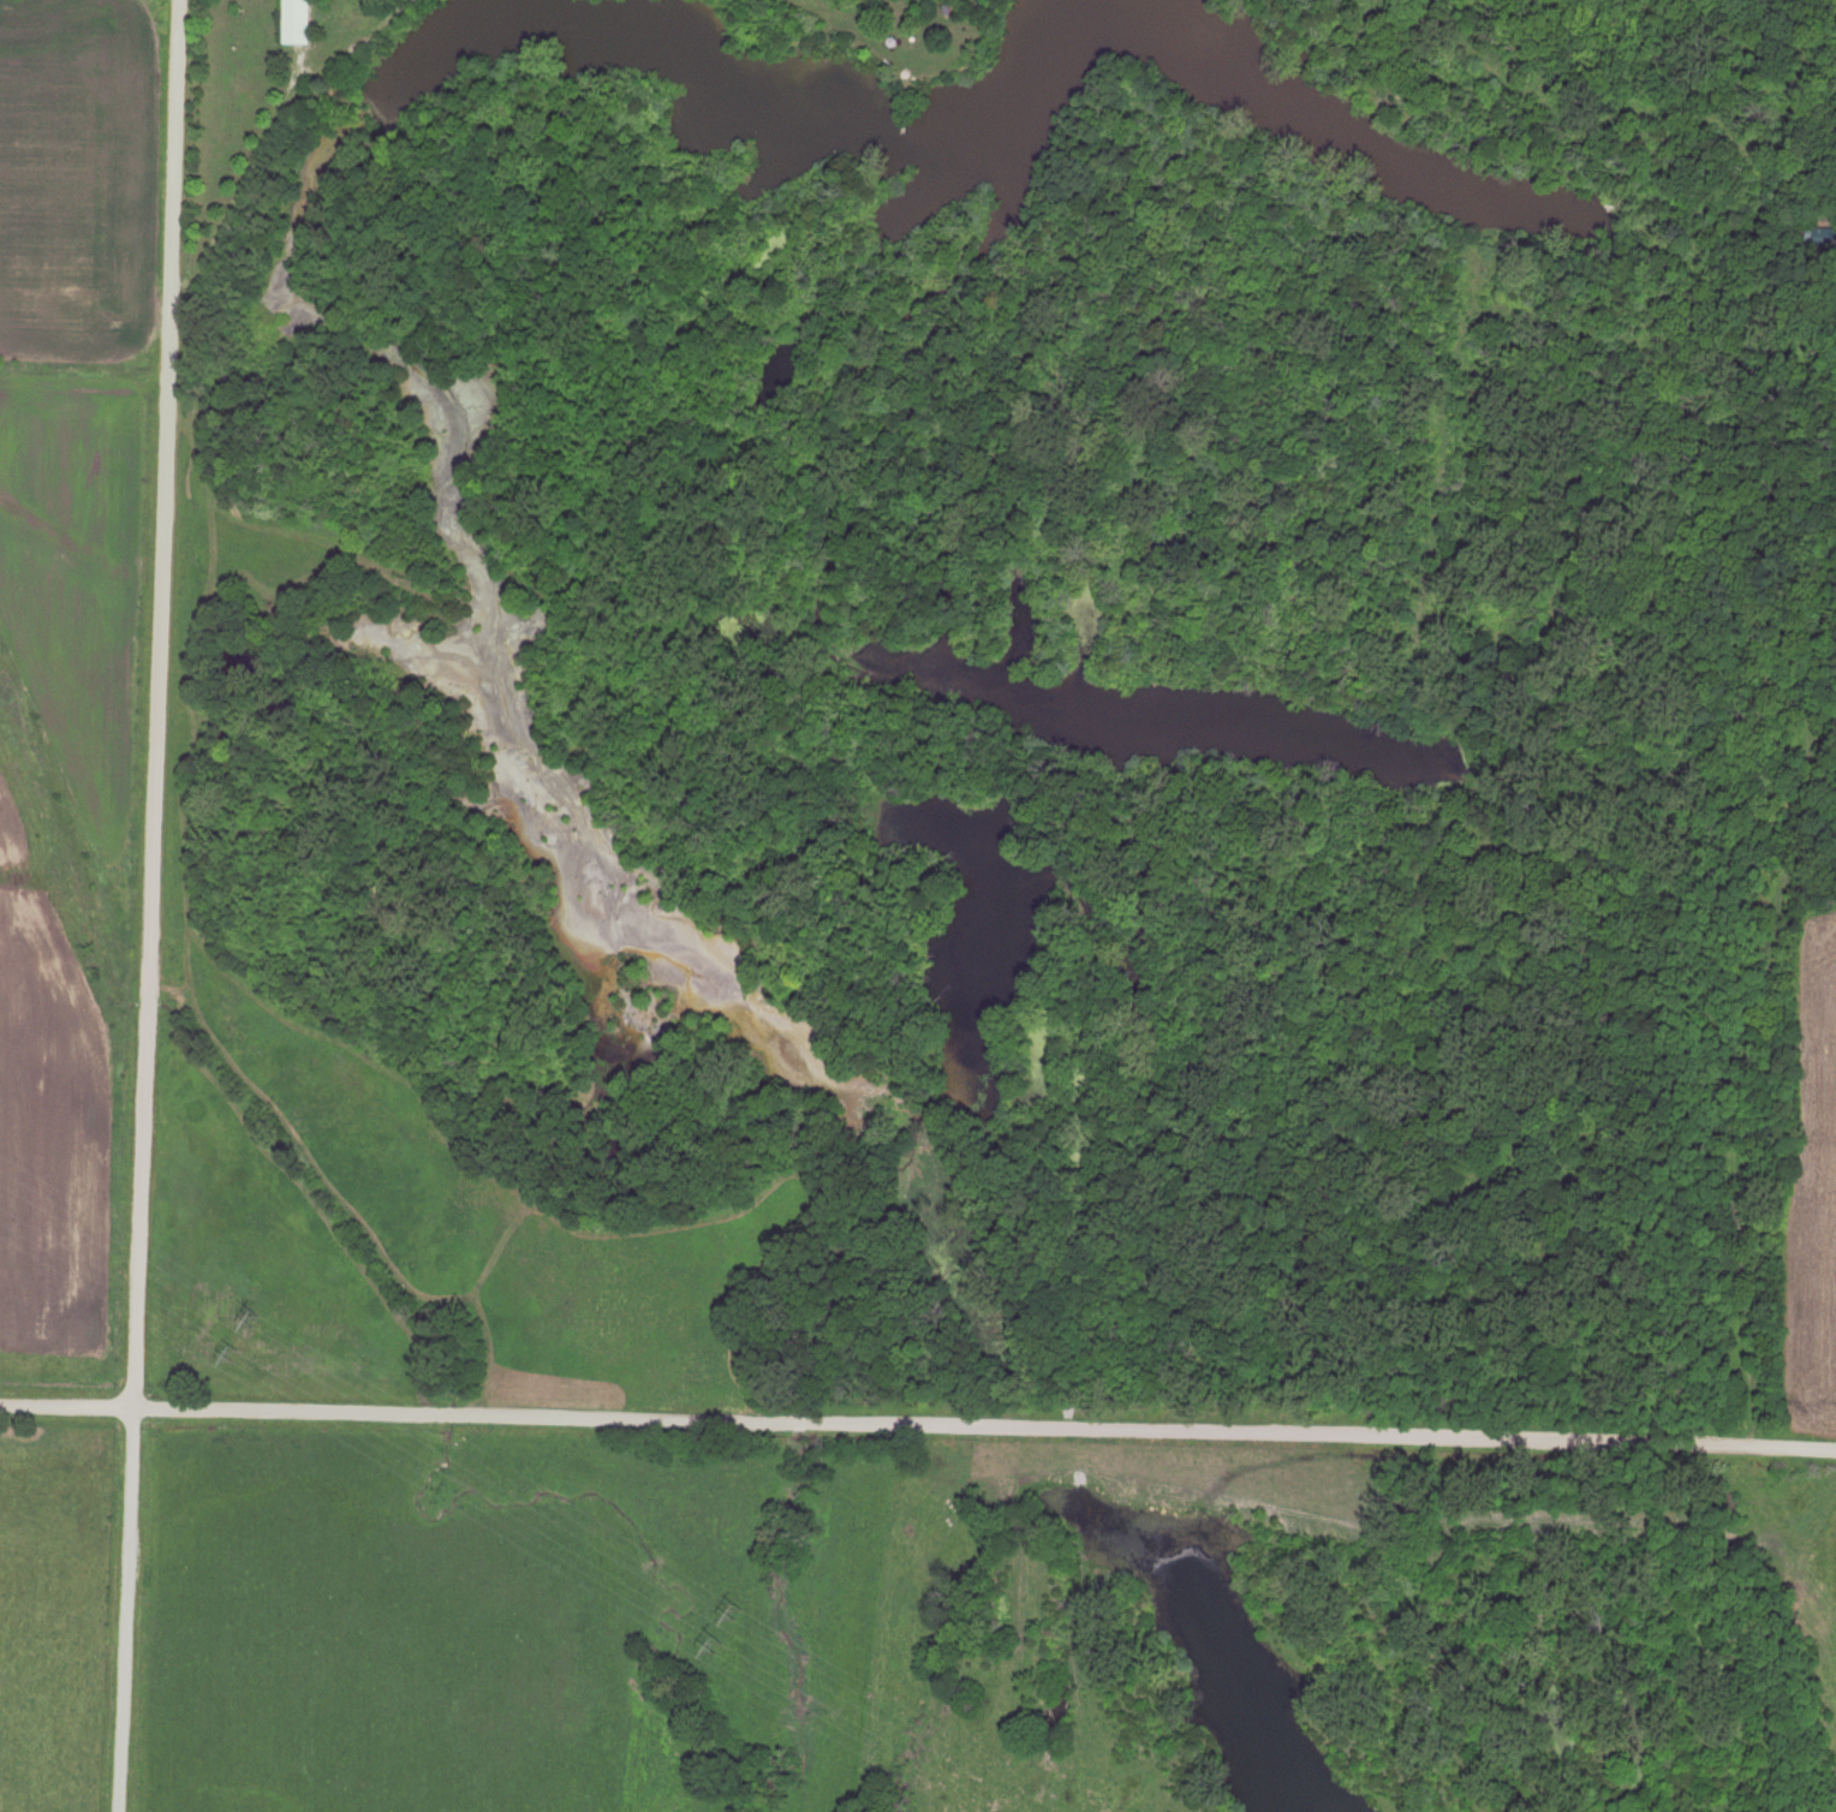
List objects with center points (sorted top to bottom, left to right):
building: (296, 22)
road: (1812, 363)
road: (153, 906)
road: (1771, 982)
power tower: (251, 1315)
power tower: (231, 1351)
road: (1818, 1414)
road: (918, 1438)
power tower: (738, 1610)
power tower: (715, 1643)

